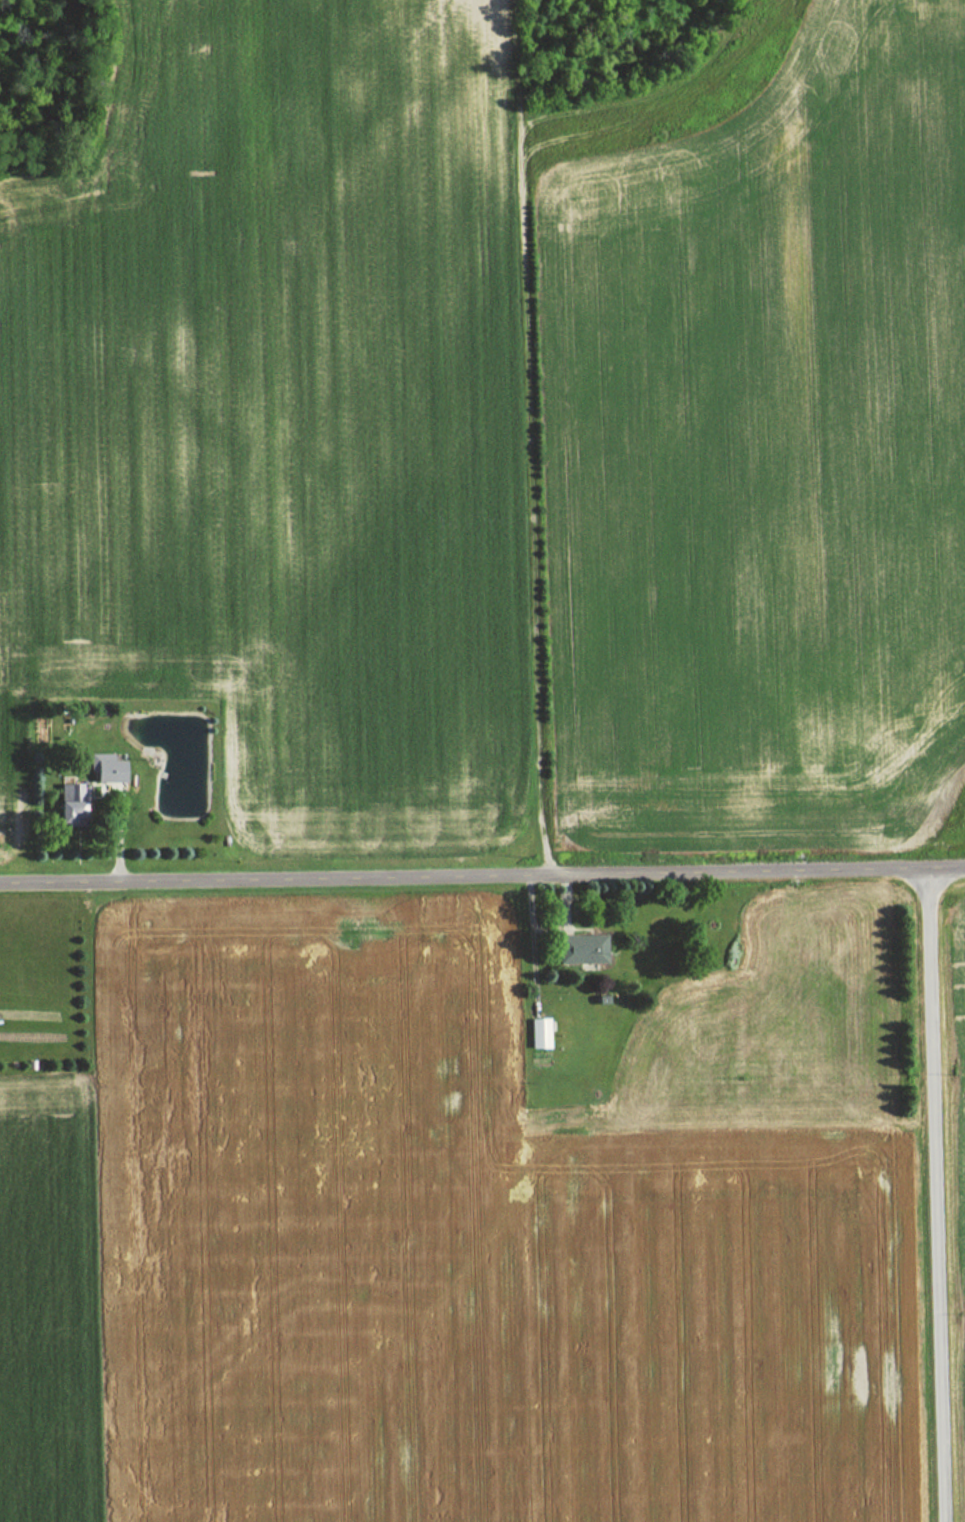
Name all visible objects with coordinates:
road: (531, 438)
crop: (762, 457)
building: (102, 768)
building: (66, 805)
road: (482, 873)
building: (579, 949)
crop: (962, 1014)
building: (536, 1034)
road: (937, 1195)
crop: (446, 1249)
crop: (44, 1305)

